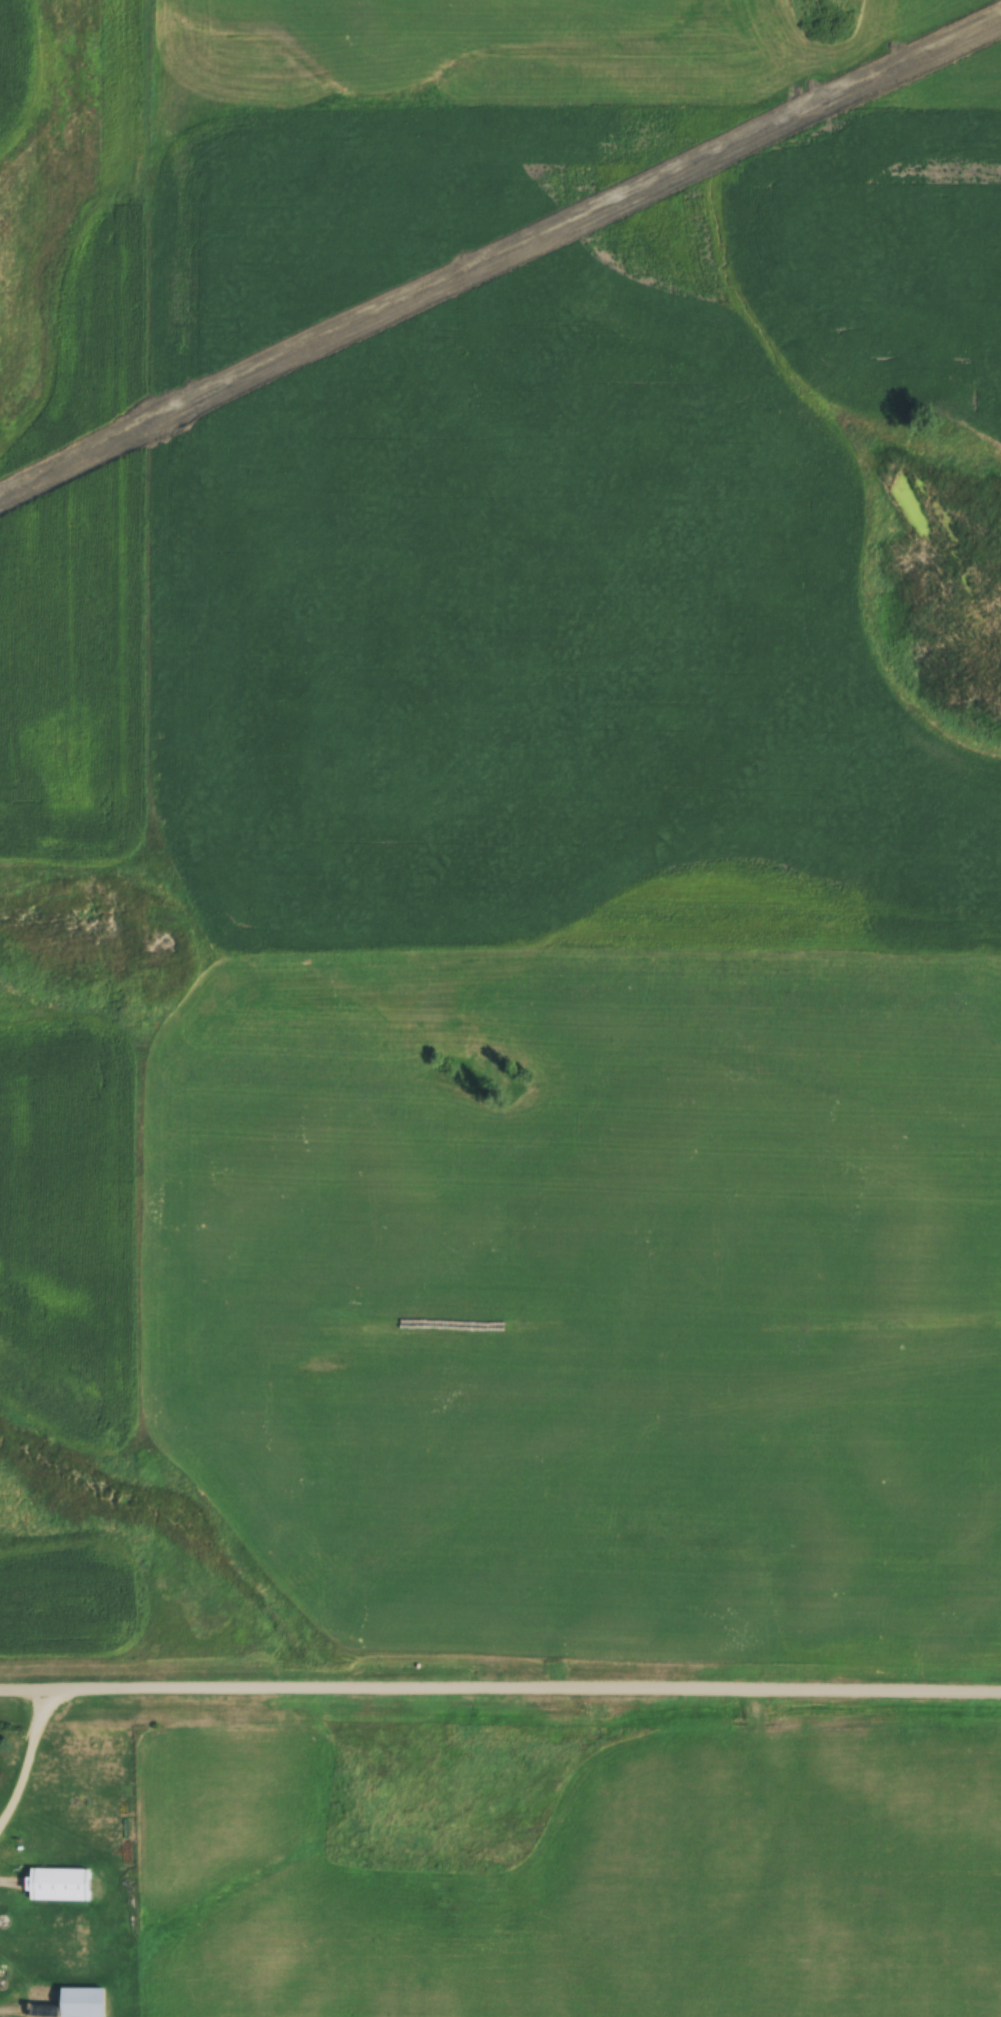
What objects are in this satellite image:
road: (500, 1684)
road: (31, 1755)
building: (61, 1887)
building: (83, 2003)

